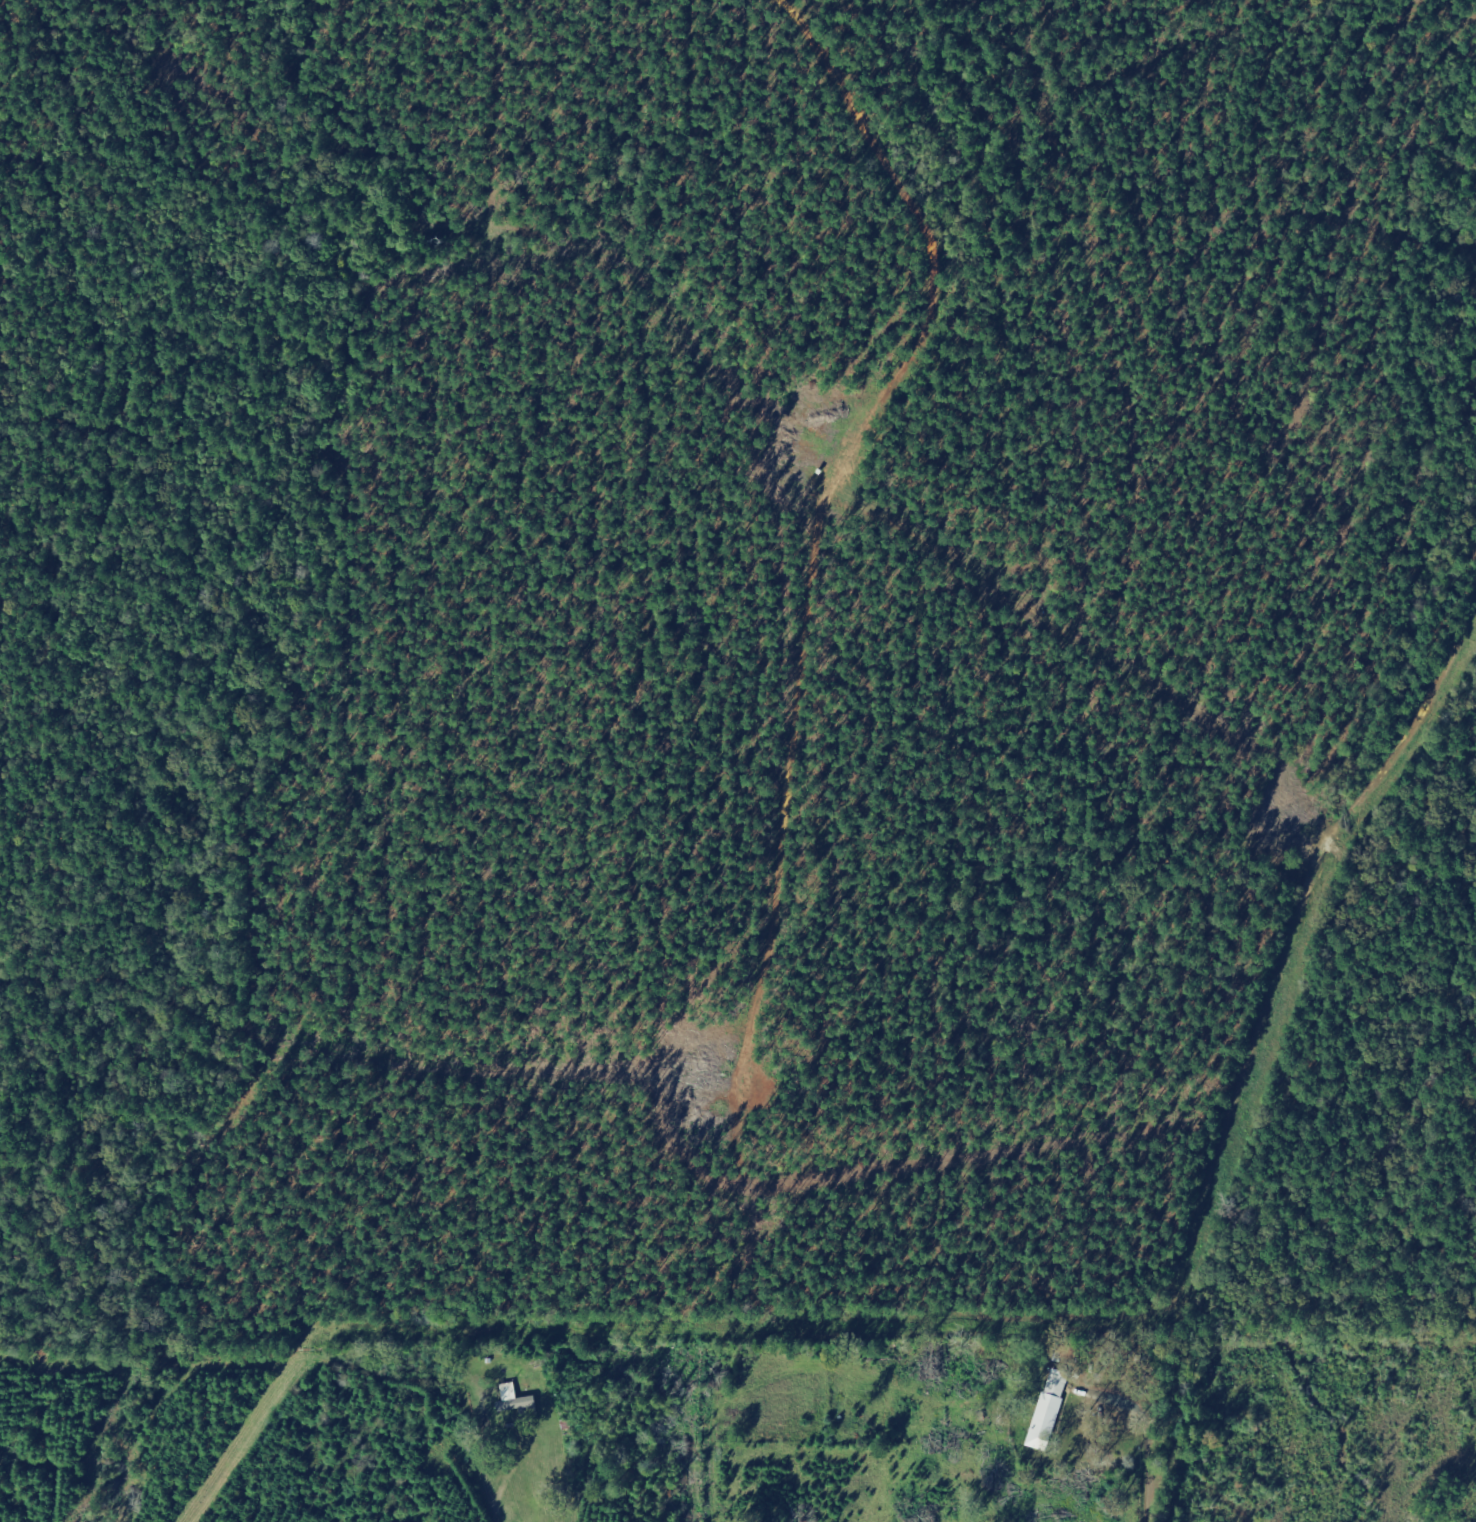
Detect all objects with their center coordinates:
road: (1300, 1088)
building: (513, 1403)
building: (1047, 1410)
road: (599, 1457)

